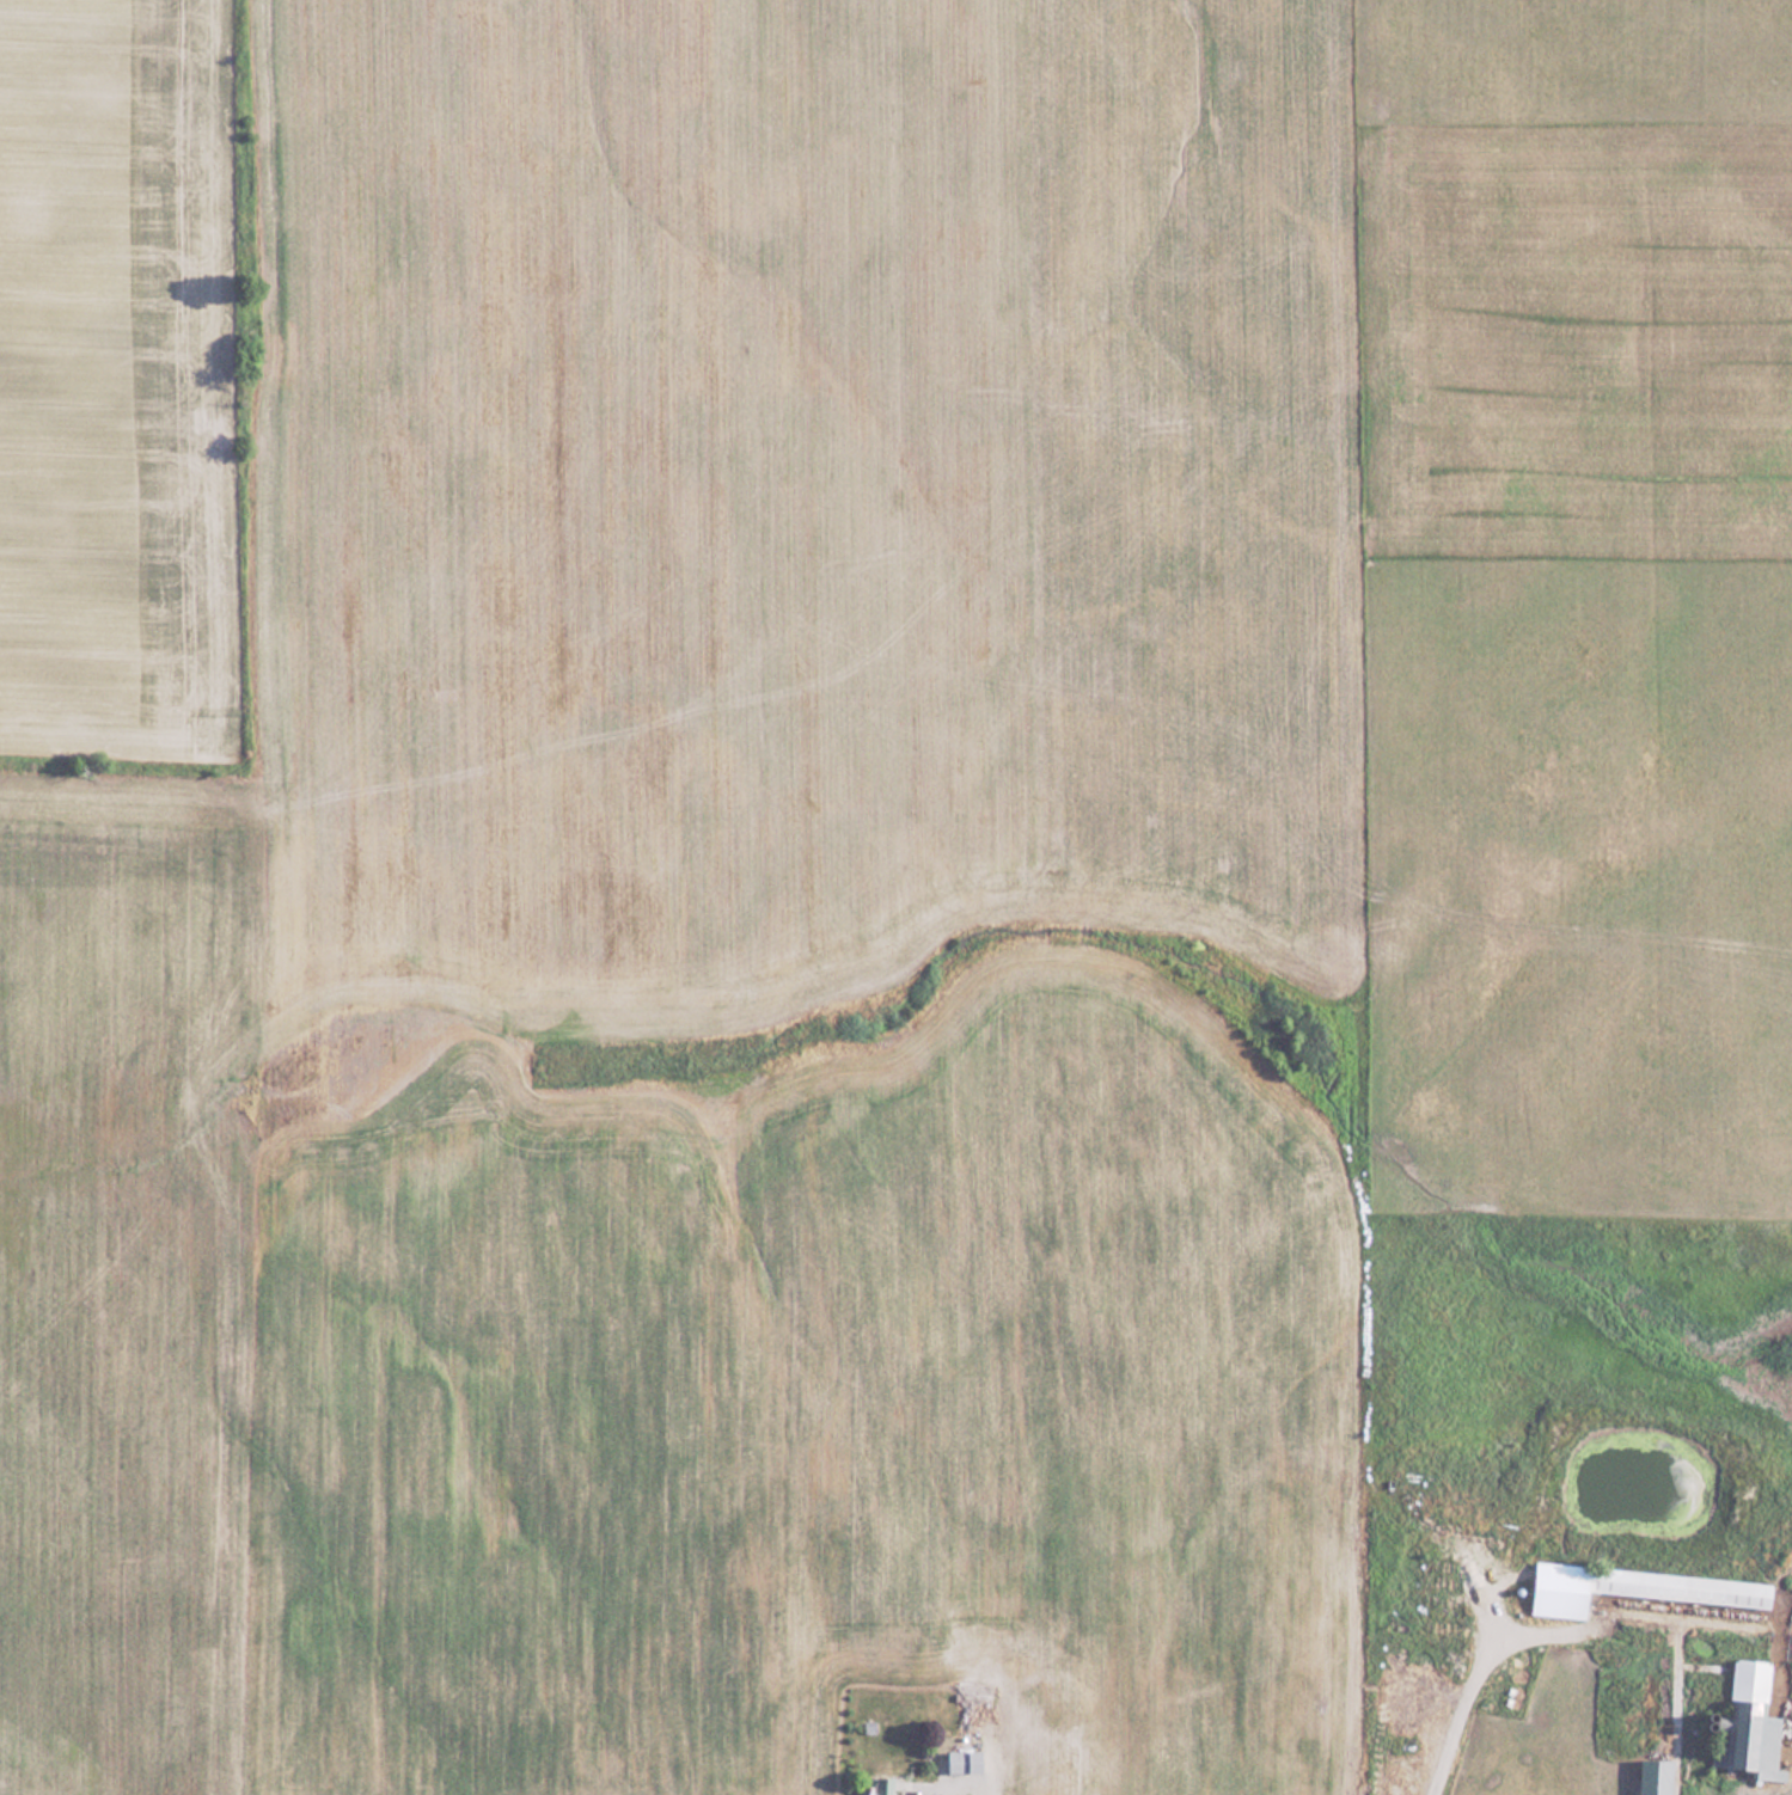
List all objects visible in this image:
building: (1681, 1587)
building: (981, 1685)
building: (1749, 1722)
building: (966, 1760)
building: (1657, 1777)
building: (883, 1785)

